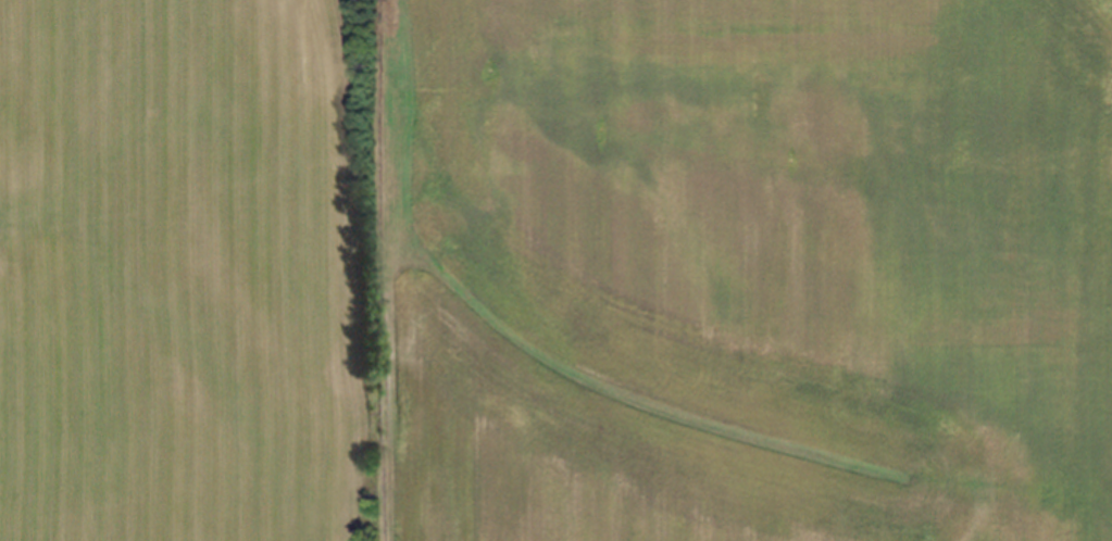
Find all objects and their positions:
airport: (752, 269)

